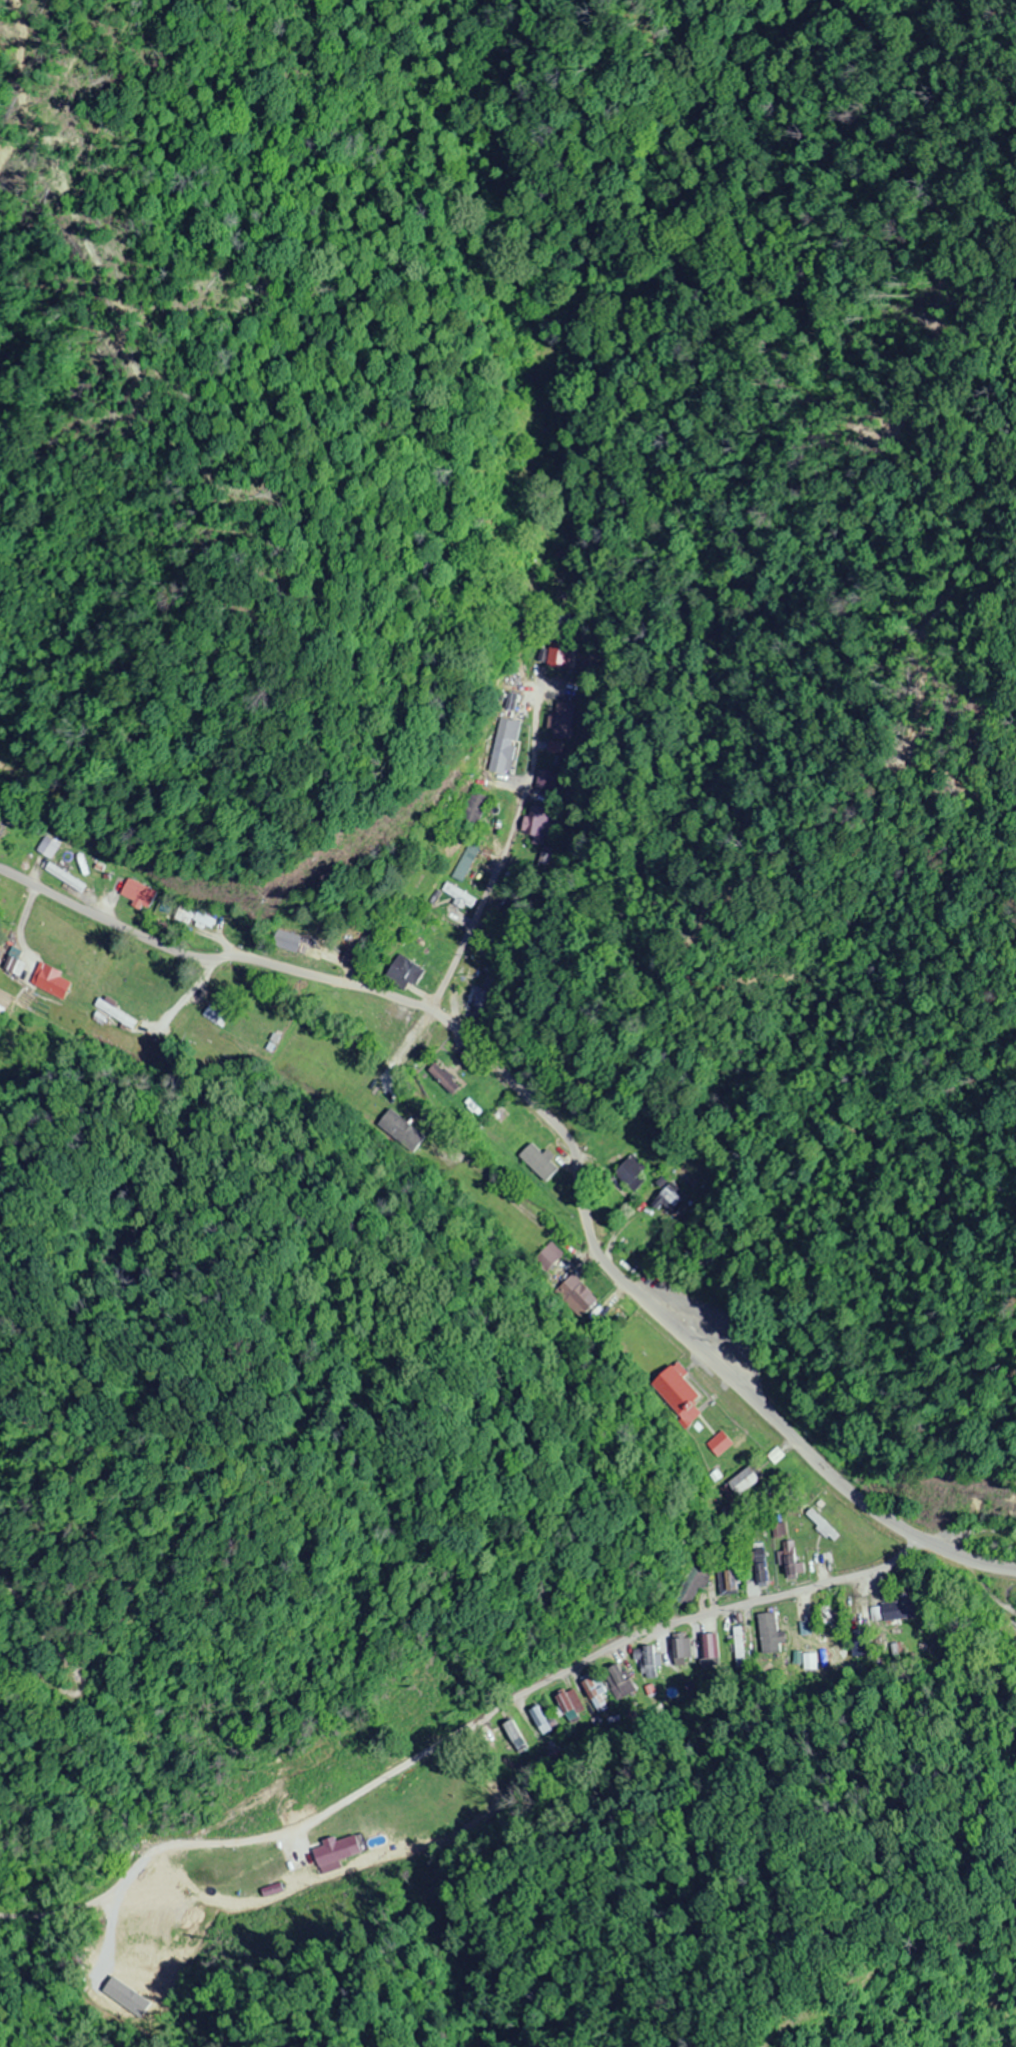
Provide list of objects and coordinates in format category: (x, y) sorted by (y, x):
building: (555, 652)
building: (560, 721)
building: (506, 747)
building: (540, 780)
building: (478, 809)
building: (537, 825)
building: (49, 847)
building: (468, 863)
road: (494, 871)
building: (66, 878)
building: (140, 894)
building: (459, 896)
building: (407, 974)
building: (470, 974)
building: (477, 999)
building: (418, 1033)
building: (401, 1132)
road: (568, 1140)
building: (634, 1172)
parking lot: (723, 1327)
building: (685, 1388)
building: (741, 1476)
building: (824, 1526)
building: (789, 1560)
building: (762, 1576)
building: (732, 1581)
building: (880, 1613)
road: (695, 1617)
building: (825, 1619)
building: (771, 1635)
building: (735, 1647)
building: (709, 1650)
building: (679, 1654)
building: (649, 1663)
building: (592, 1690)
building: (564, 1704)
building: (515, 1737)

